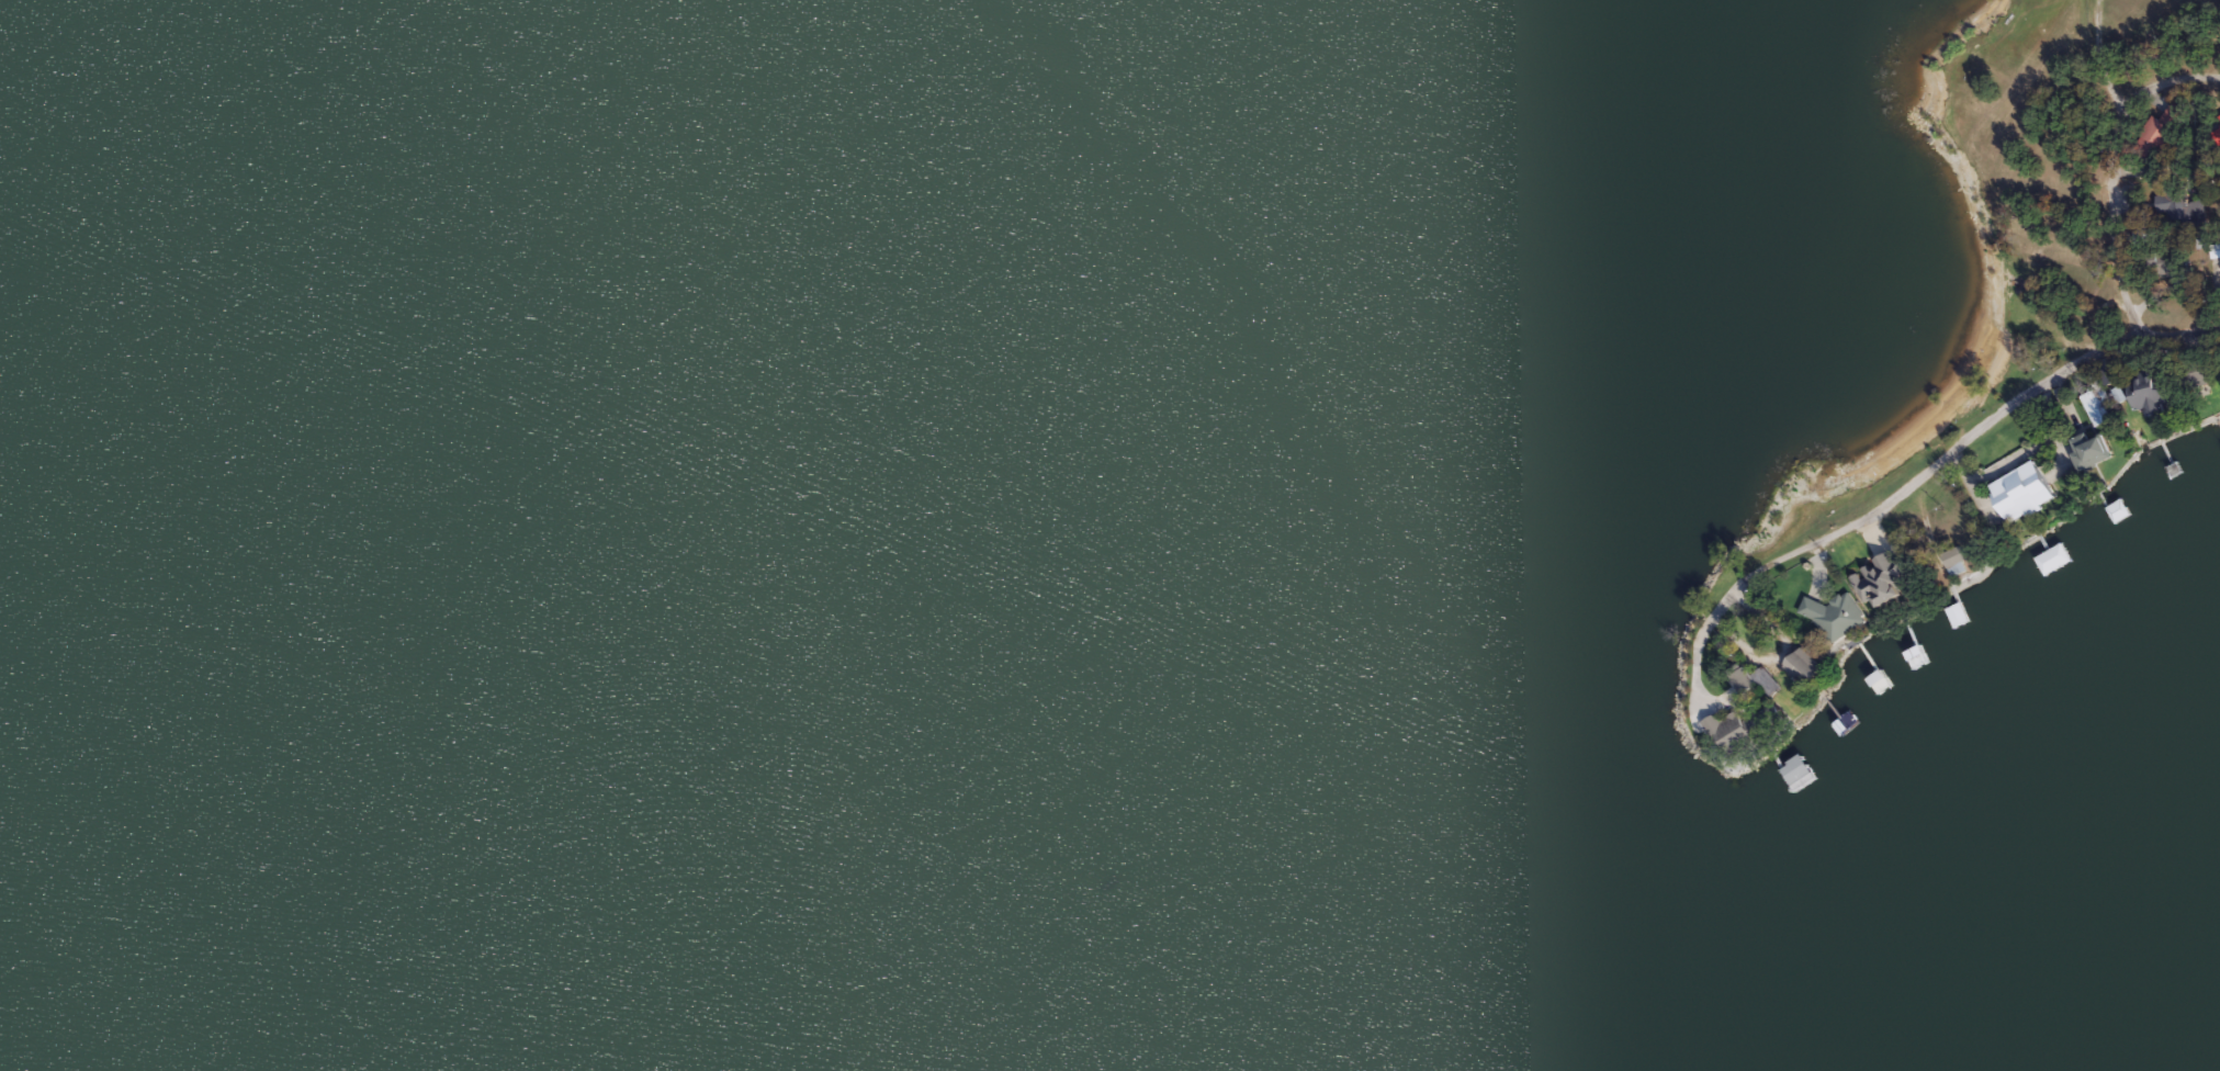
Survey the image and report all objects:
road: (2097, 57)
building: (2161, 128)
road: (2110, 171)
building: (2180, 205)
road: (2177, 332)
building: (2198, 375)
building: (2151, 391)
building: (2094, 406)
road: (1972, 441)
building: (2093, 449)
building: (2028, 491)
building: (2117, 510)
building: (2052, 557)
building: (1957, 560)
building: (1881, 579)
road: (1721, 609)
building: (1956, 613)
building: (1834, 615)
building: (1916, 657)
building: (1804, 664)
building: (1765, 688)
building: (1740, 728)
building: (1798, 769)

